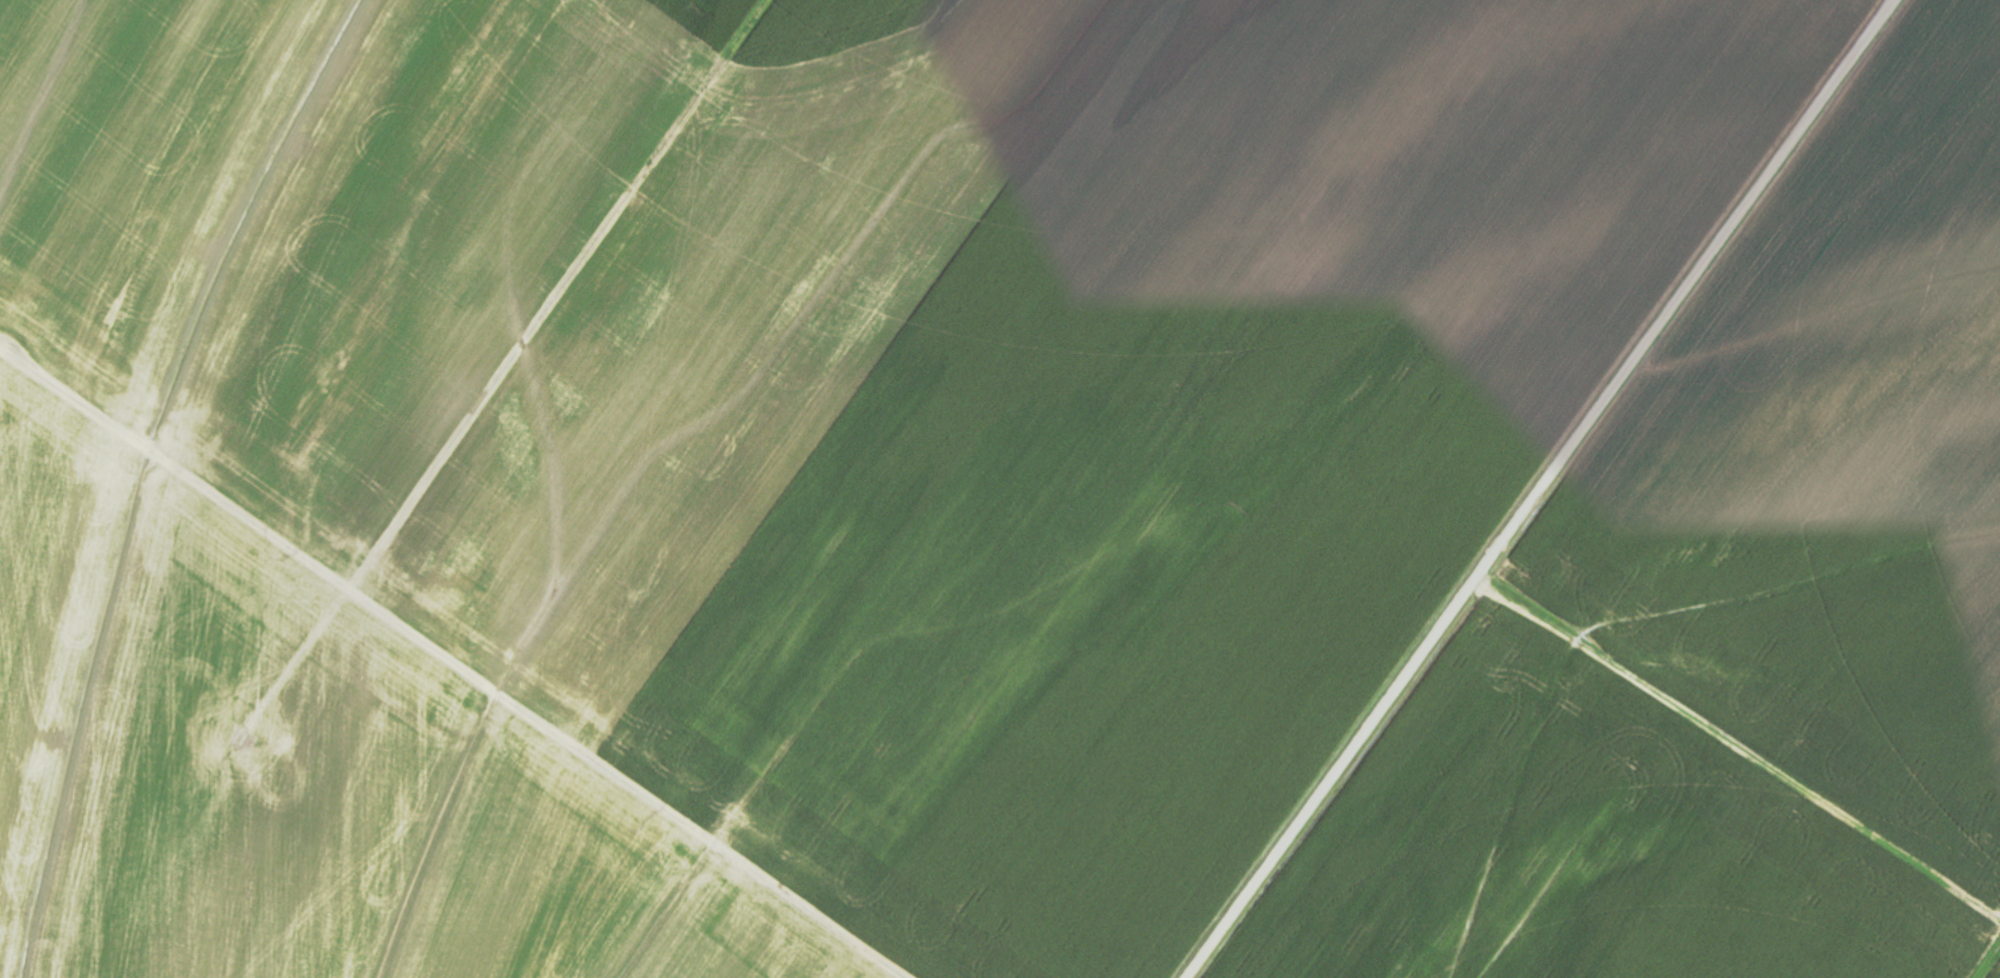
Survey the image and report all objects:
road: (1540, 488)
road: (1722, 738)

